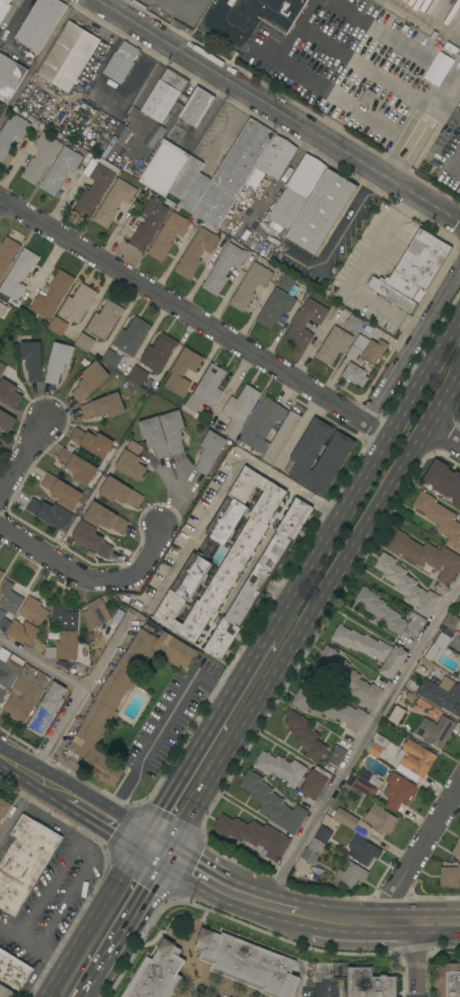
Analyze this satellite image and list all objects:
road: (110, 2)
building: (3, 8)
road: (15, 17)
building: (248, 19)
building: (40, 24)
building: (69, 56)
road: (351, 59)
building: (121, 62)
road: (443, 68)
road: (455, 73)
building: (10, 76)
road: (328, 90)
building: (164, 94)
building: (196, 107)
building: (2, 108)
road: (447, 108)
road: (279, 110)
building: (11, 133)
building: (41, 157)
road: (454, 163)
building: (268, 166)
building: (164, 168)
building: (61, 169)
building: (221, 176)
building: (94, 185)
building: (297, 191)
building: (113, 202)
building: (321, 211)
road: (458, 221)
building: (149, 223)
parking lot: (354, 230)
building: (168, 235)
road: (339, 236)
building: (196, 252)
building: (7, 254)
building: (224, 268)
building: (413, 271)
road: (359, 273)
parking lot: (364, 273)
building: (18, 277)
building: (286, 282)
building: (250, 286)
building: (52, 295)
building: (78, 303)
building: (275, 307)
building: (2, 309)
building: (105, 319)
road: (192, 319)
building: (305, 322)
building: (354, 323)
building: (57, 325)
building: (132, 336)
building: (84, 342)
road: (411, 342)
building: (334, 345)
building: (367, 348)
building: (158, 352)
building: (111, 358)
building: (32, 359)
building: (58, 361)
building: (2, 368)
building: (182, 371)
building: (355, 374)
building: (138, 375)
building: (90, 381)
building: (206, 391)
building: (9, 394)
building: (104, 406)
building: (240, 409)
building: (6, 421)
building: (262, 424)
building: (173, 431)
building: (154, 436)
building: (281, 437)
road: (442, 437)
building: (92, 442)
building: (0, 445)
building: (210, 451)
building: (305, 454)
road: (22, 458)
building: (132, 461)
building: (78, 466)
road: (364, 474)
building: (444, 480)
road: (291, 484)
building: (62, 491)
building: (120, 492)
building: (51, 514)
building: (105, 517)
building: (439, 517)
road: (193, 531)
building: (91, 539)
road: (144, 553)
building: (238, 555)
building: (426, 555)
road: (60, 562)
building: (1, 574)
building: (258, 580)
building: (407, 584)
building: (11, 599)
building: (381, 610)
building: (33, 611)
building: (96, 613)
road: (313, 616)
building: (65, 618)
building: (4, 621)
building: (451, 621)
building: (414, 624)
building: (442, 627)
building: (23, 632)
building: (454, 642)
building: (361, 643)
building: (440, 643)
building: (64, 647)
building: (93, 648)
building: (459, 658)
road: (42, 661)
building: (394, 662)
building: (8, 670)
building: (459, 674)
building: (350, 678)
building: (26, 692)
building: (439, 693)
road: (78, 697)
building: (409, 697)
building: (122, 698)
building: (47, 708)
building: (331, 709)
building: (396, 714)
building: (435, 731)
road: (160, 732)
building: (383, 734)
building: (305, 735)
road: (205, 740)
road: (358, 741)
building: (375, 749)
building: (337, 755)
building: (416, 758)
road: (12, 768)
building: (281, 768)
road: (29, 779)
building: (315, 782)
building: (368, 785)
road: (50, 792)
building: (399, 792)
road: (28, 793)
road: (456, 794)
building: (273, 803)
building: (4, 807)
building: (346, 818)
building: (380, 819)
road: (49, 820)
road: (11, 821)
road: (102, 825)
building: (323, 834)
building: (254, 835)
traffic signals: (140, 848)
building: (457, 848)
building: (313, 850)
building: (363, 850)
road: (415, 853)
road: (153, 855)
building: (25, 861)
traffic signals: (166, 862)
building: (352, 874)
building: (450, 876)
road: (211, 886)
road: (47, 888)
road: (72, 891)
road: (286, 914)
road: (93, 922)
road: (129, 922)
road: (364, 923)
road: (438, 923)
road: (32, 948)
road: (416, 960)
building: (248, 963)
building: (338, 969)
building: (13, 970)
building: (158, 973)
building: (447, 980)
building: (369, 982)
road: (87, 989)
building: (6, 992)
parking lot: (319, 996)

